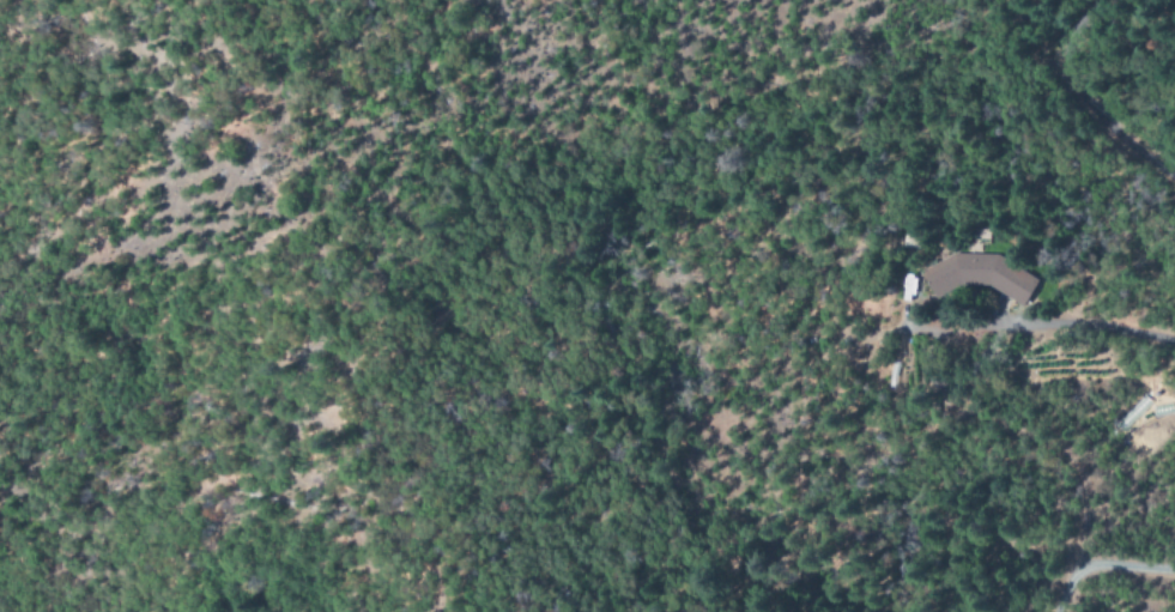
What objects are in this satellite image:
road: (1088, 102)
building: (982, 275)

